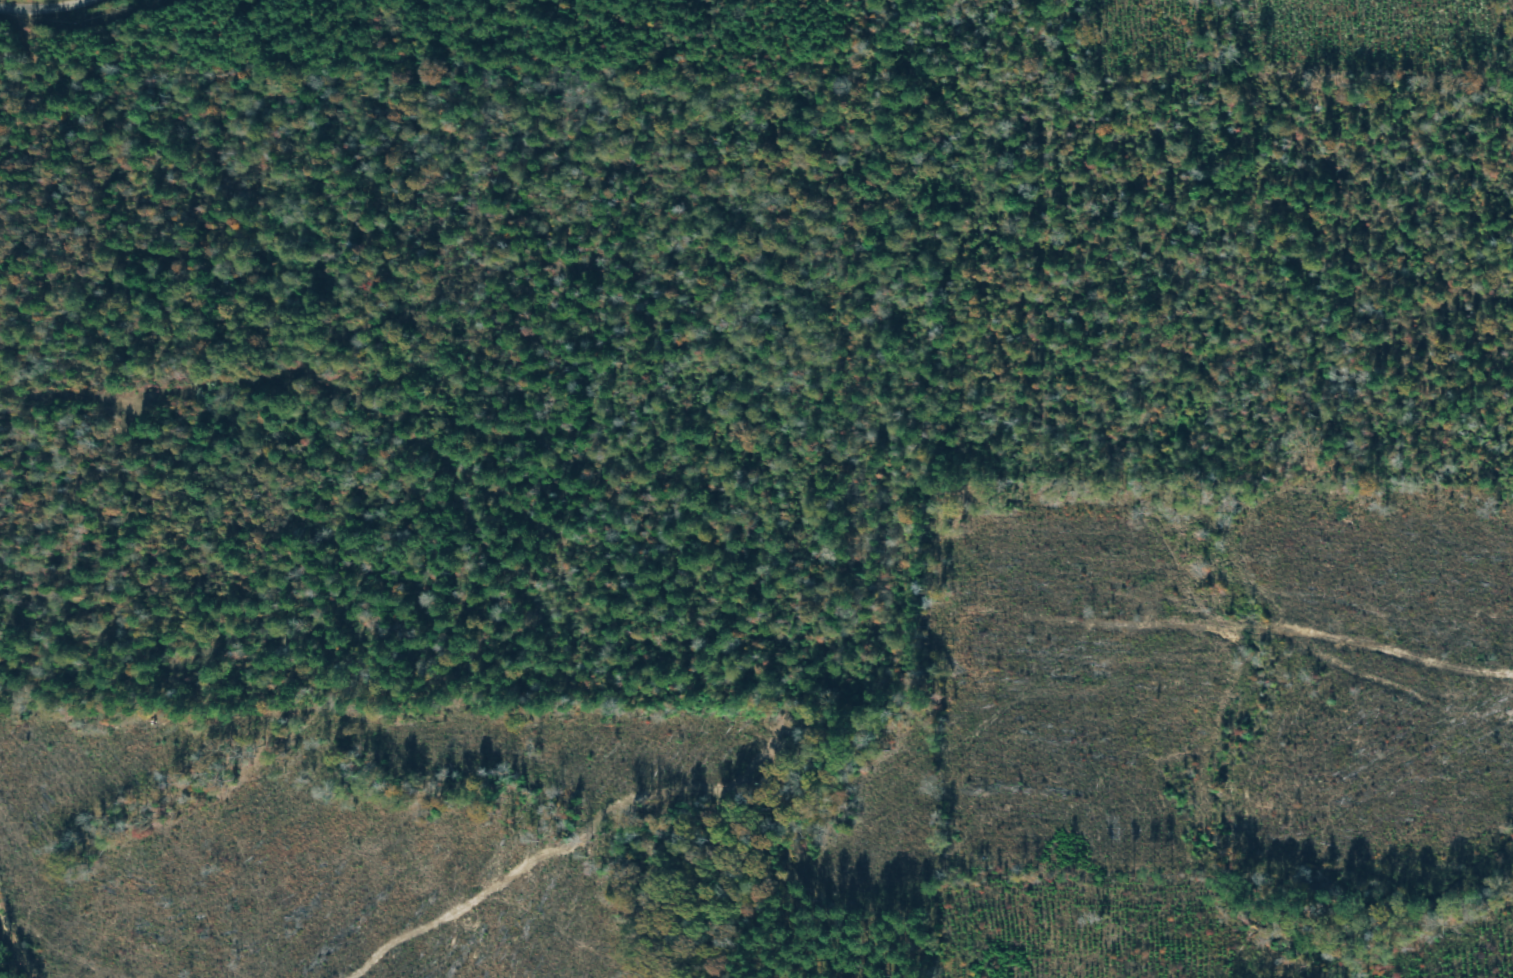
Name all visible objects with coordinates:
road: (69, 16)

